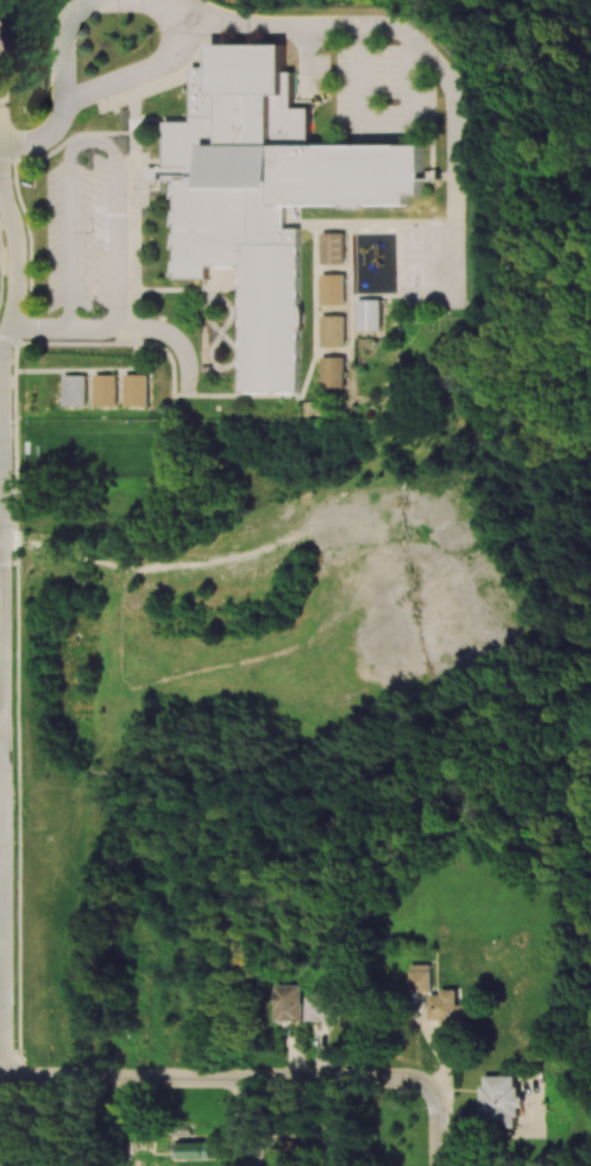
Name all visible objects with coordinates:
road: (170, 5)
road: (247, 25)
road: (63, 42)
road: (307, 62)
road: (0, 71)
road: (140, 73)
road: (445, 73)
parking lot: (376, 92)
road: (379, 114)
road: (38, 137)
road: (82, 142)
building: (268, 193)
parking lot: (86, 234)
building: (335, 246)
building: (335, 288)
road: (215, 296)
building: (370, 314)
road: (96, 326)
road: (39, 328)
building: (337, 330)
road: (6, 332)
road: (171, 332)
road: (225, 366)
road: (0, 374)
building: (337, 374)
building: (109, 388)
building: (140, 389)
building: (76, 390)
road: (2, 720)
road: (5, 814)
building: (421, 977)
building: (289, 1002)
building: (325, 1005)
building: (447, 1007)
road: (214, 1077)
building: (501, 1101)
road: (245, 1122)
road: (439, 1124)
building: (293, 1148)
building: (190, 1149)

